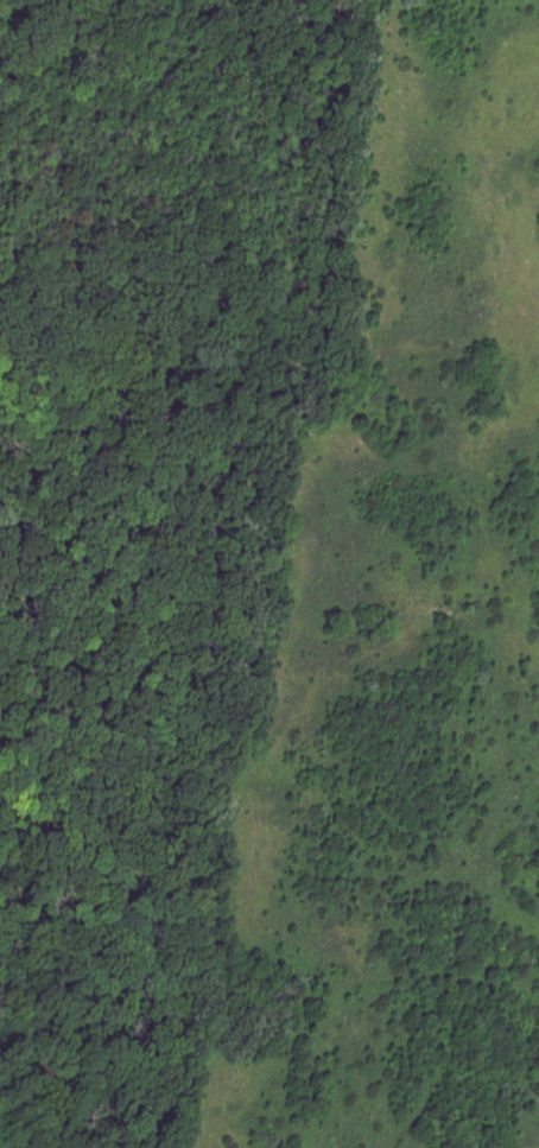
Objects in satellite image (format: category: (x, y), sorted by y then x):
road: (40, 558)
park: (269, 573)
road: (97, 620)

